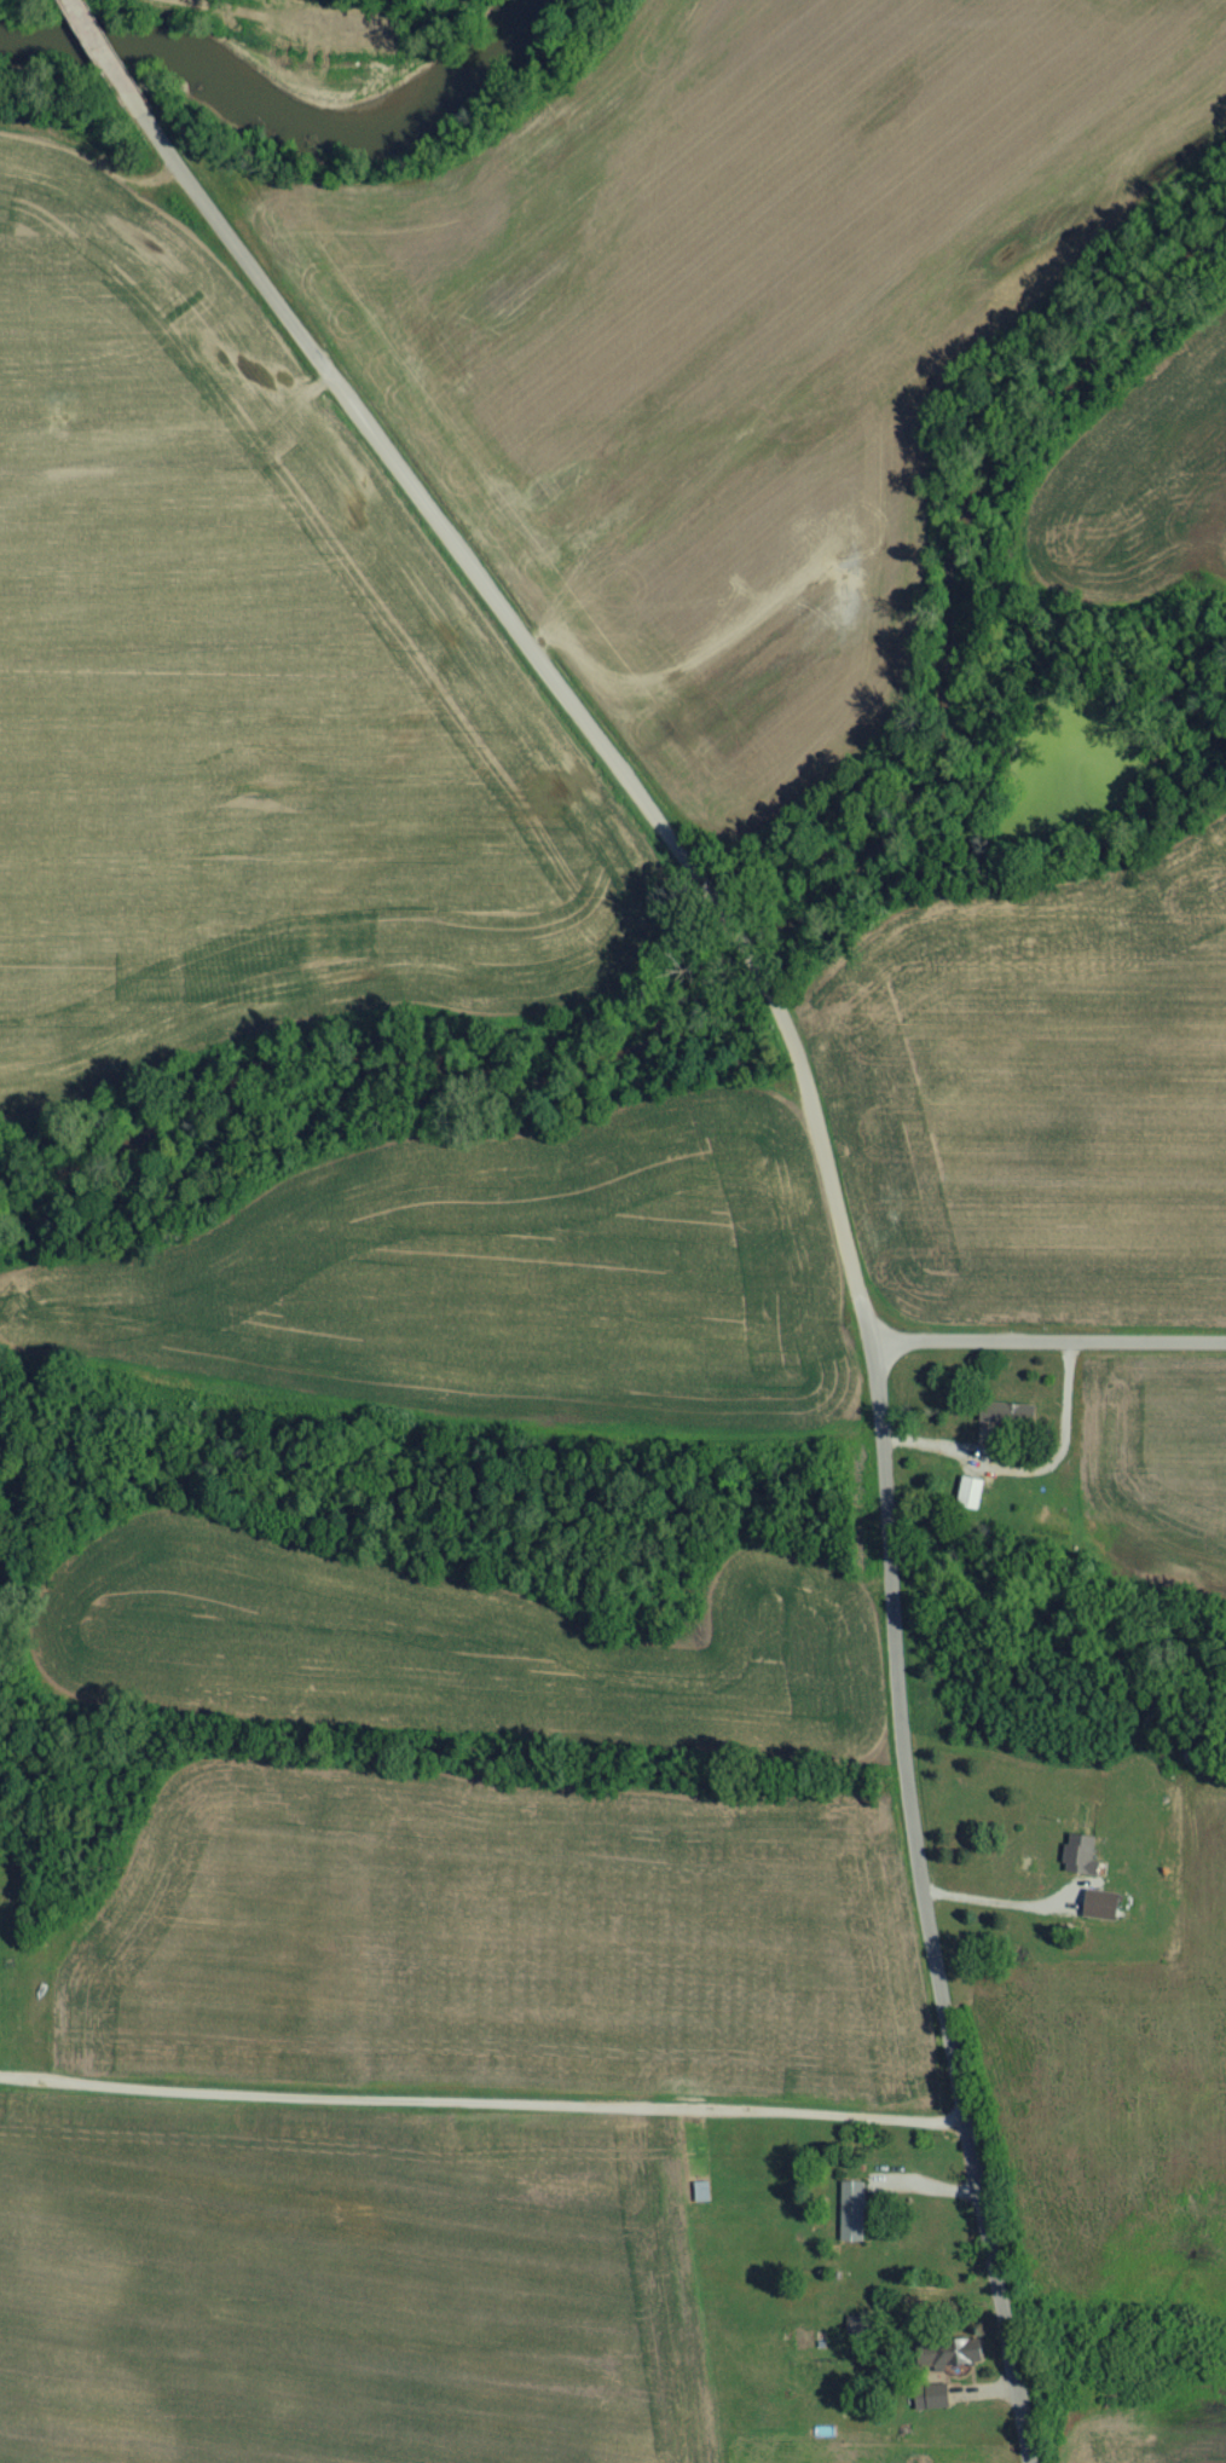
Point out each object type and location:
road: (845, 1128)
road: (1047, 1343)
building: (1010, 1424)
building: (971, 1504)
building: (1082, 1866)
road: (481, 2104)
building: (704, 2203)
building: (854, 2222)
building: (805, 2358)
building: (956, 2364)
building: (933, 2409)

